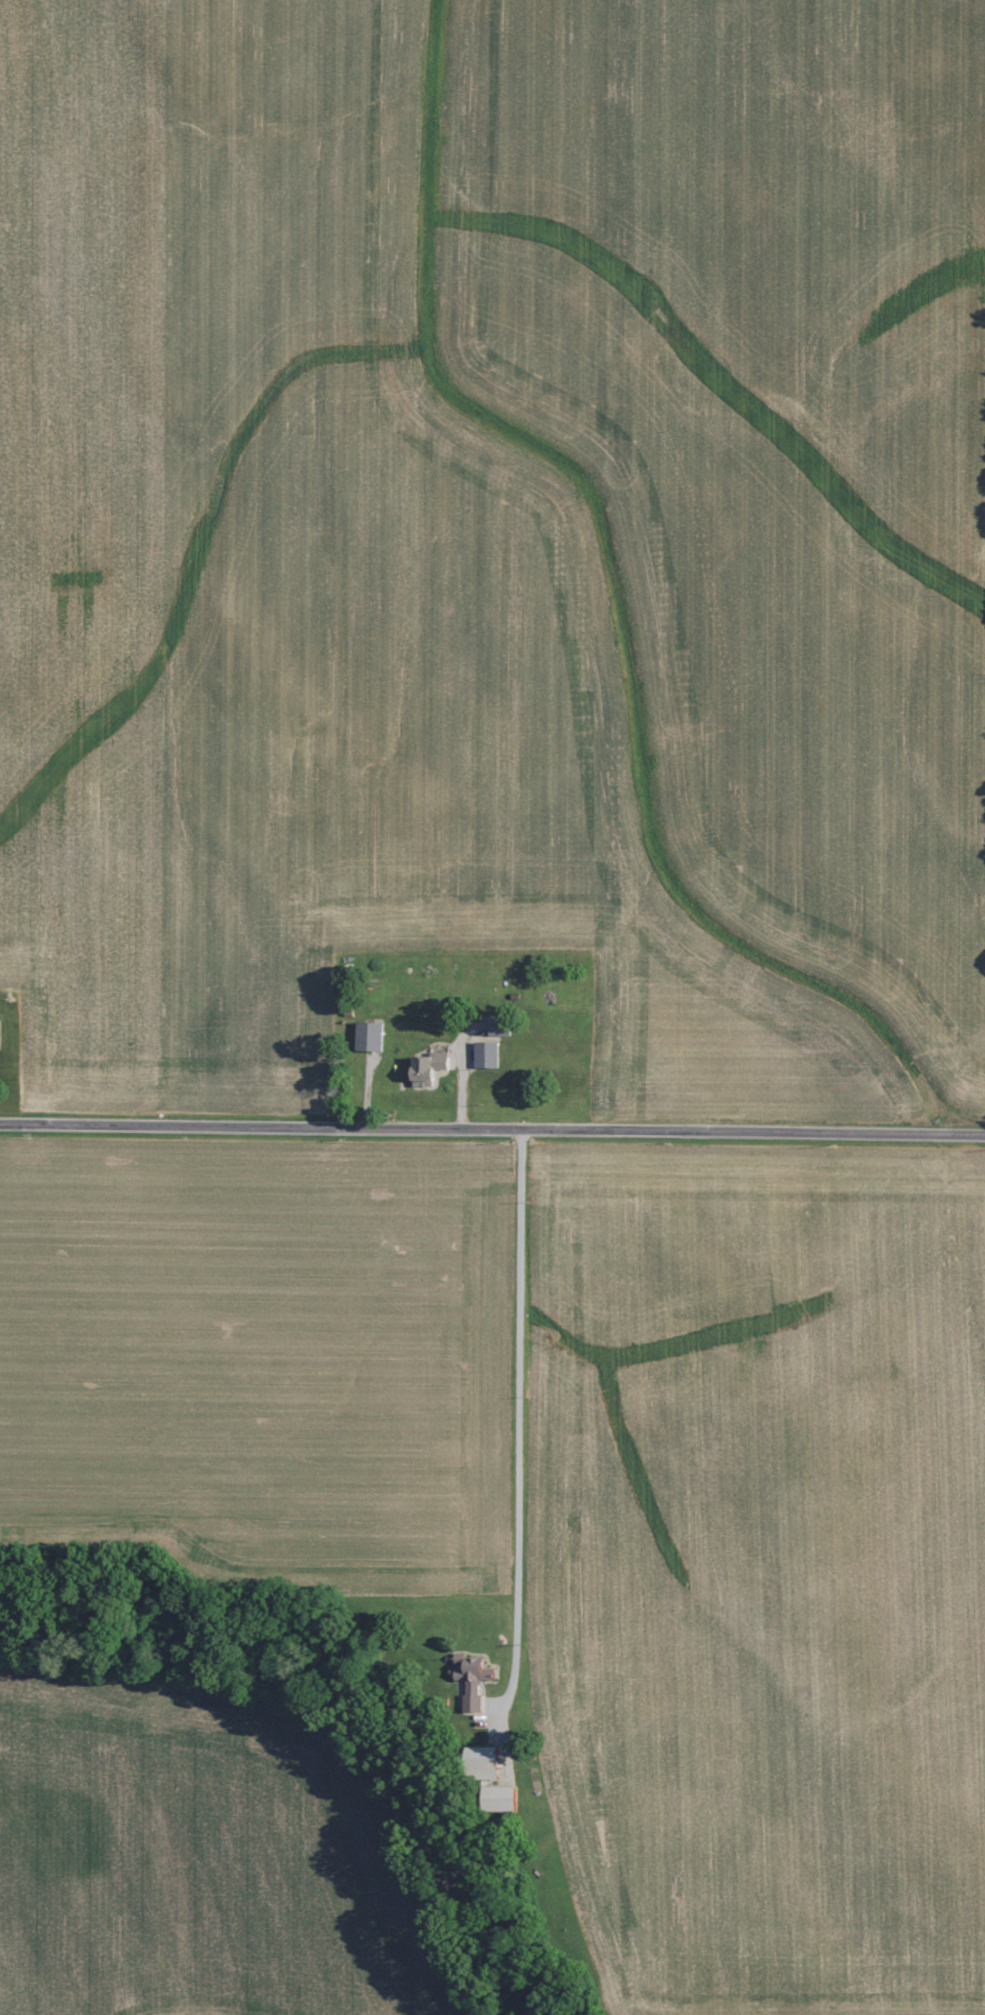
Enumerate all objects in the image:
building: (499, 1026)
building: (370, 1036)
building: (487, 1054)
building: (429, 1068)
road: (492, 1125)
road: (518, 1421)
building: (484, 1763)
building: (501, 1799)

